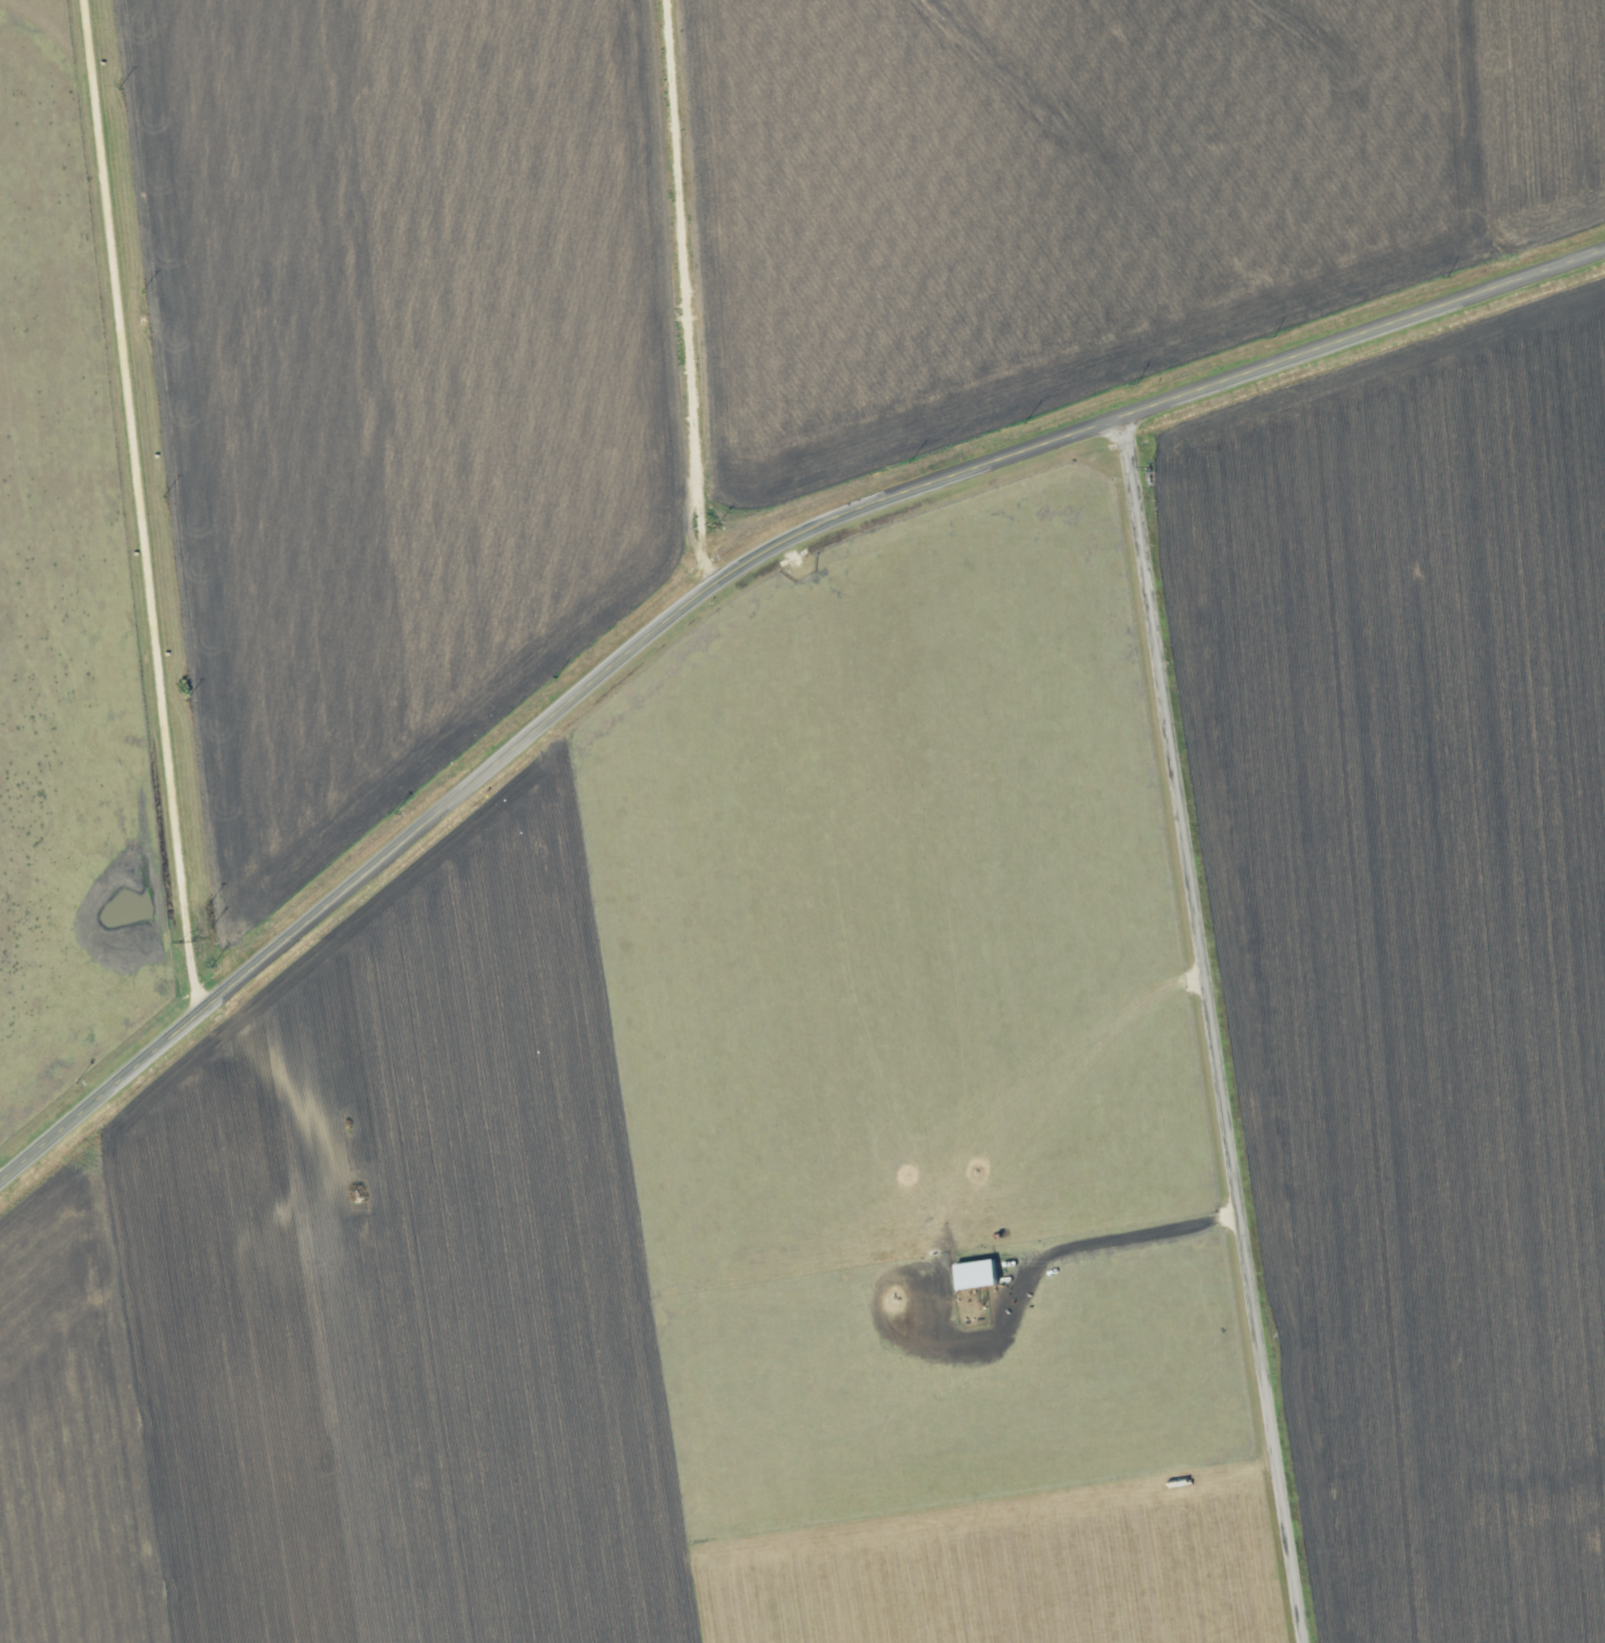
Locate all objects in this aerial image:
road: (687, 293)
road: (136, 509)
road: (724, 582)
road: (1212, 1031)
building: (973, 1275)

